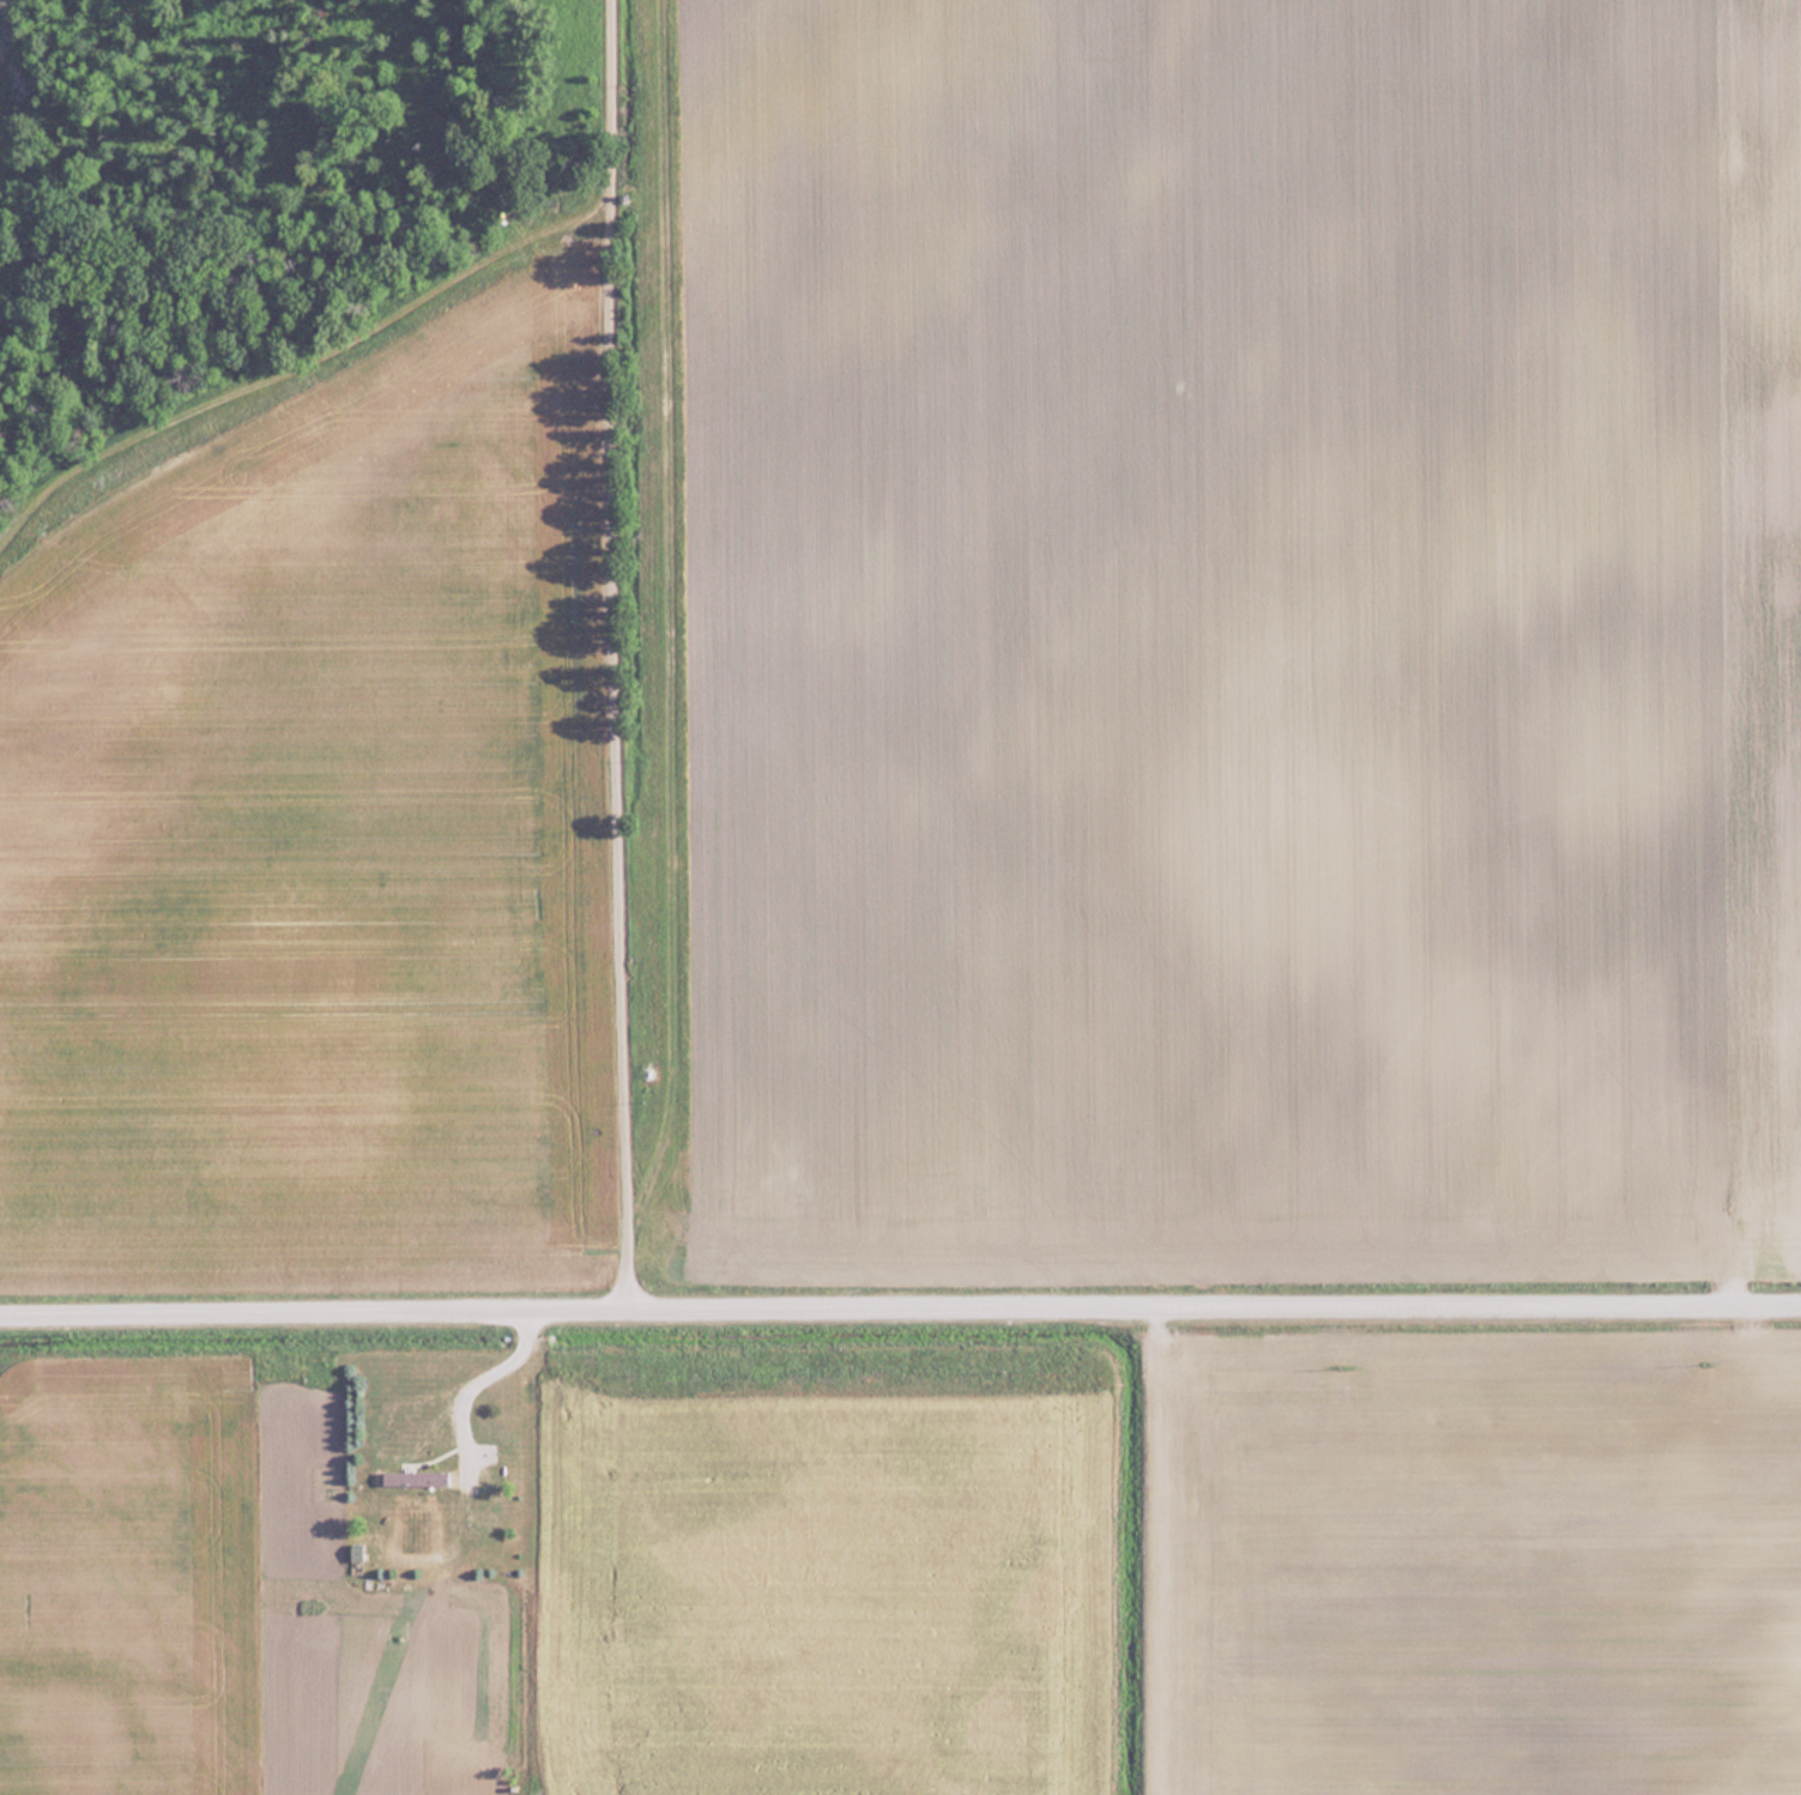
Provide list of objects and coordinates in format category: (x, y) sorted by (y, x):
road: (599, 648)
road: (900, 1298)
road: (476, 1368)
building: (416, 1476)

